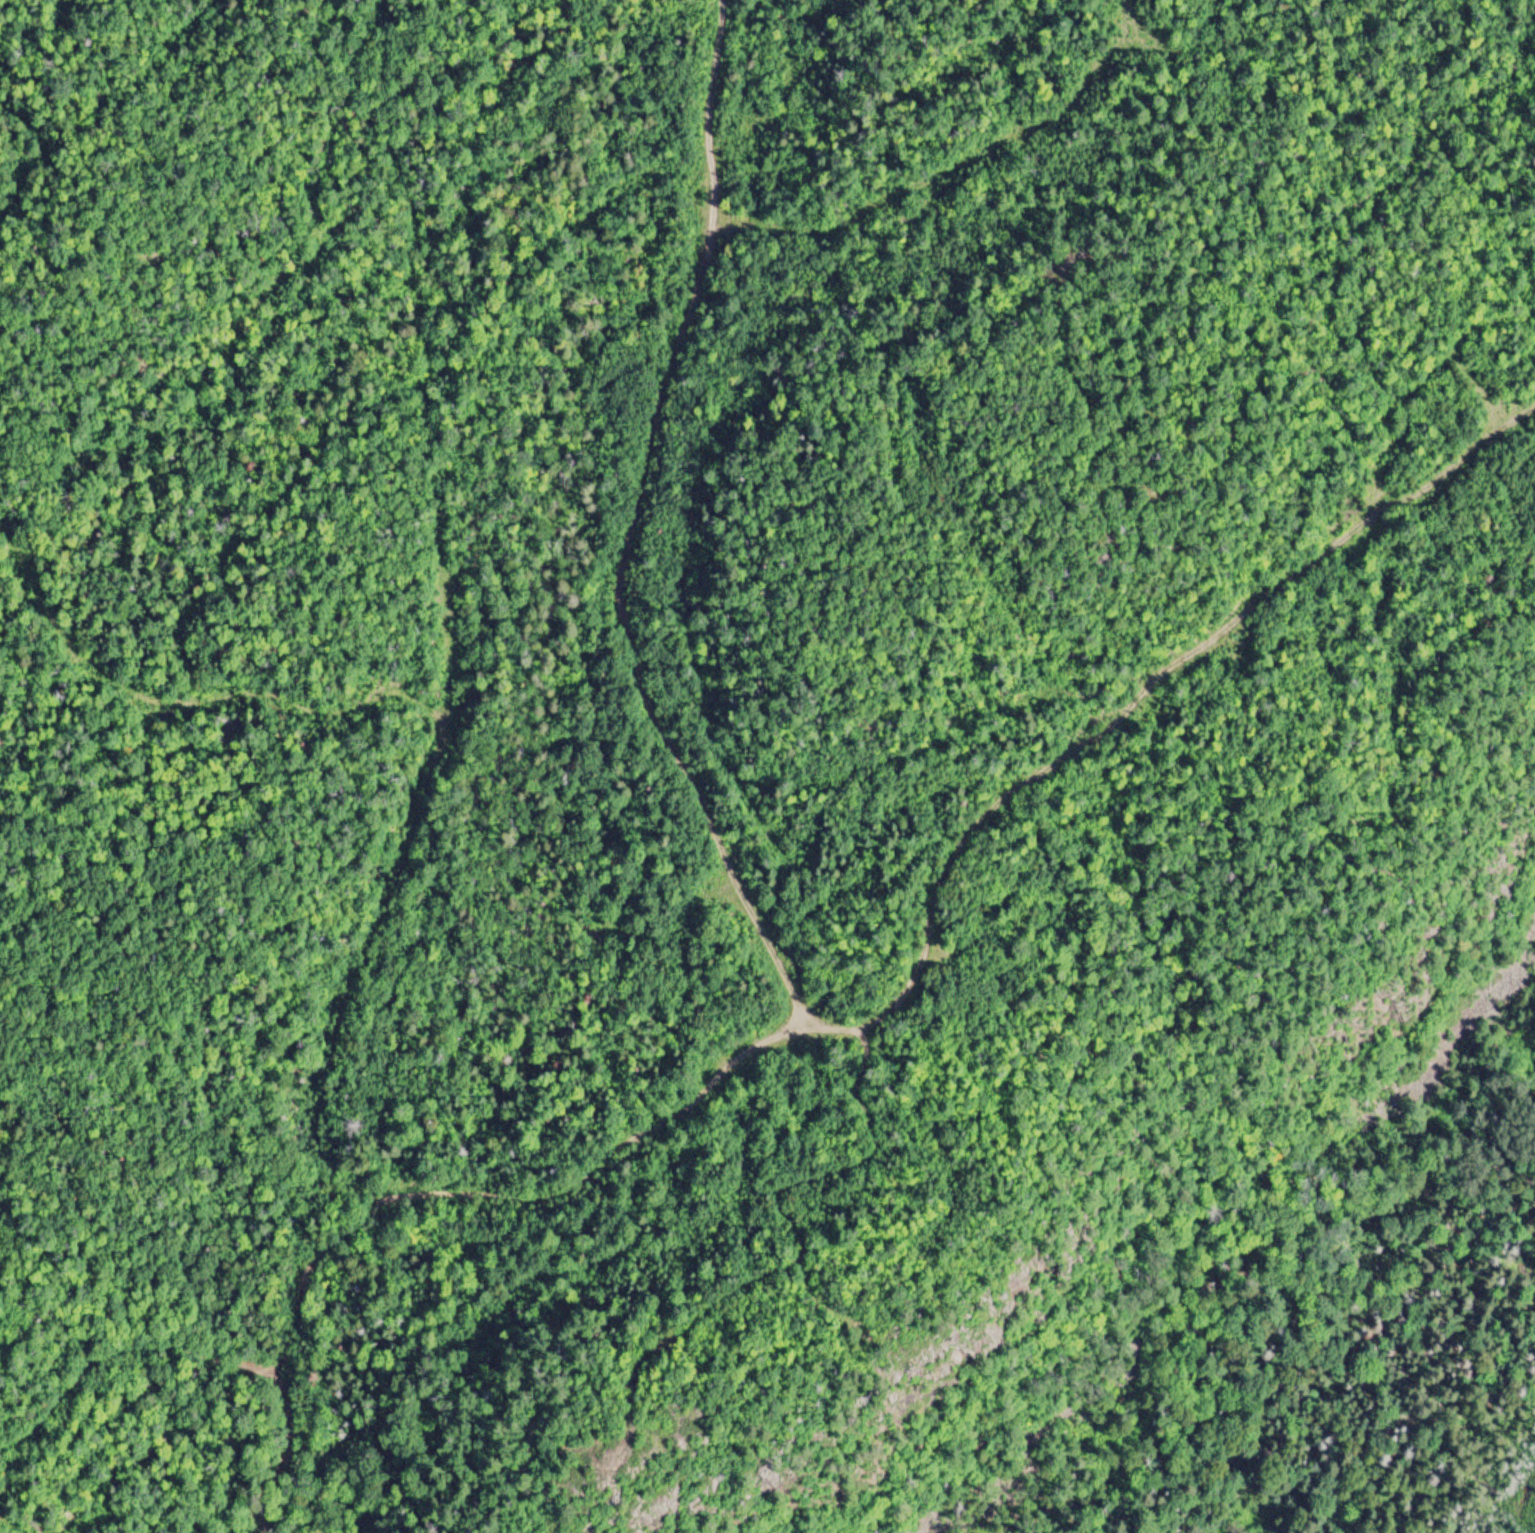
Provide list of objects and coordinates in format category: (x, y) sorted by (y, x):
road: (200, 1359)
river: (1531, 1531)

